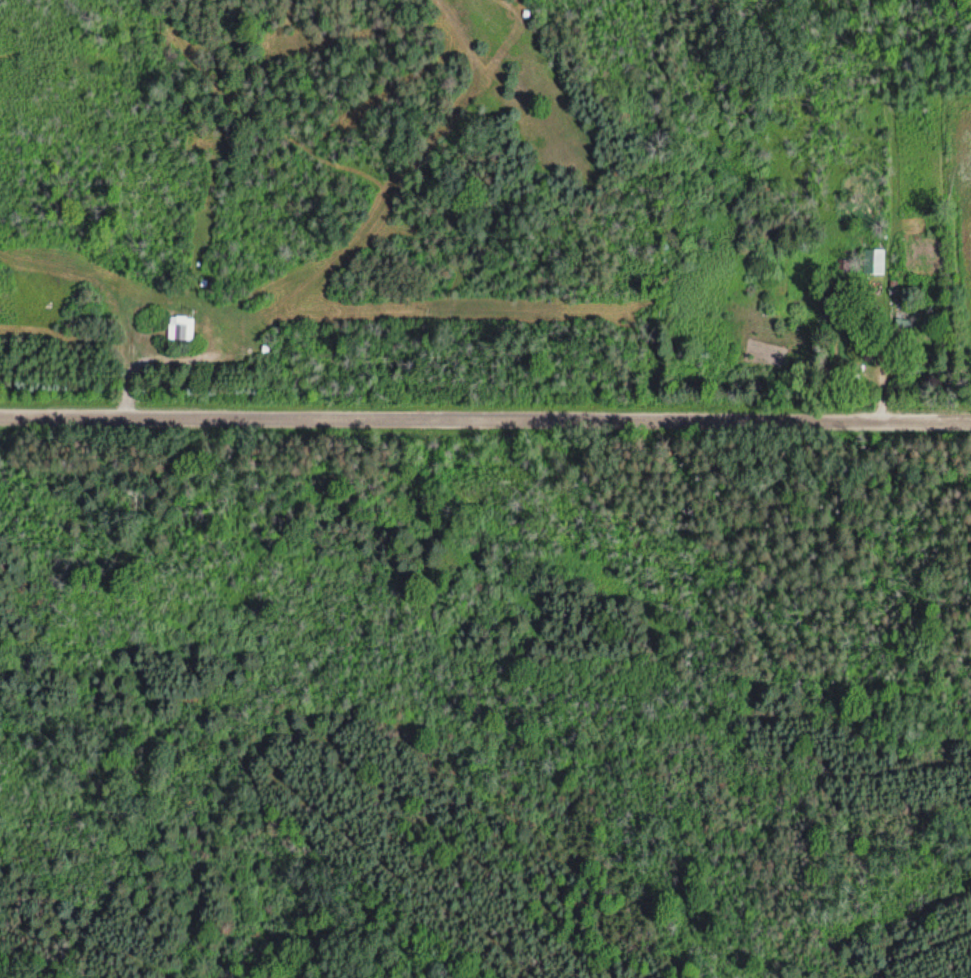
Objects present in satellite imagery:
building: (873, 262)
building: (182, 330)
road: (485, 413)

